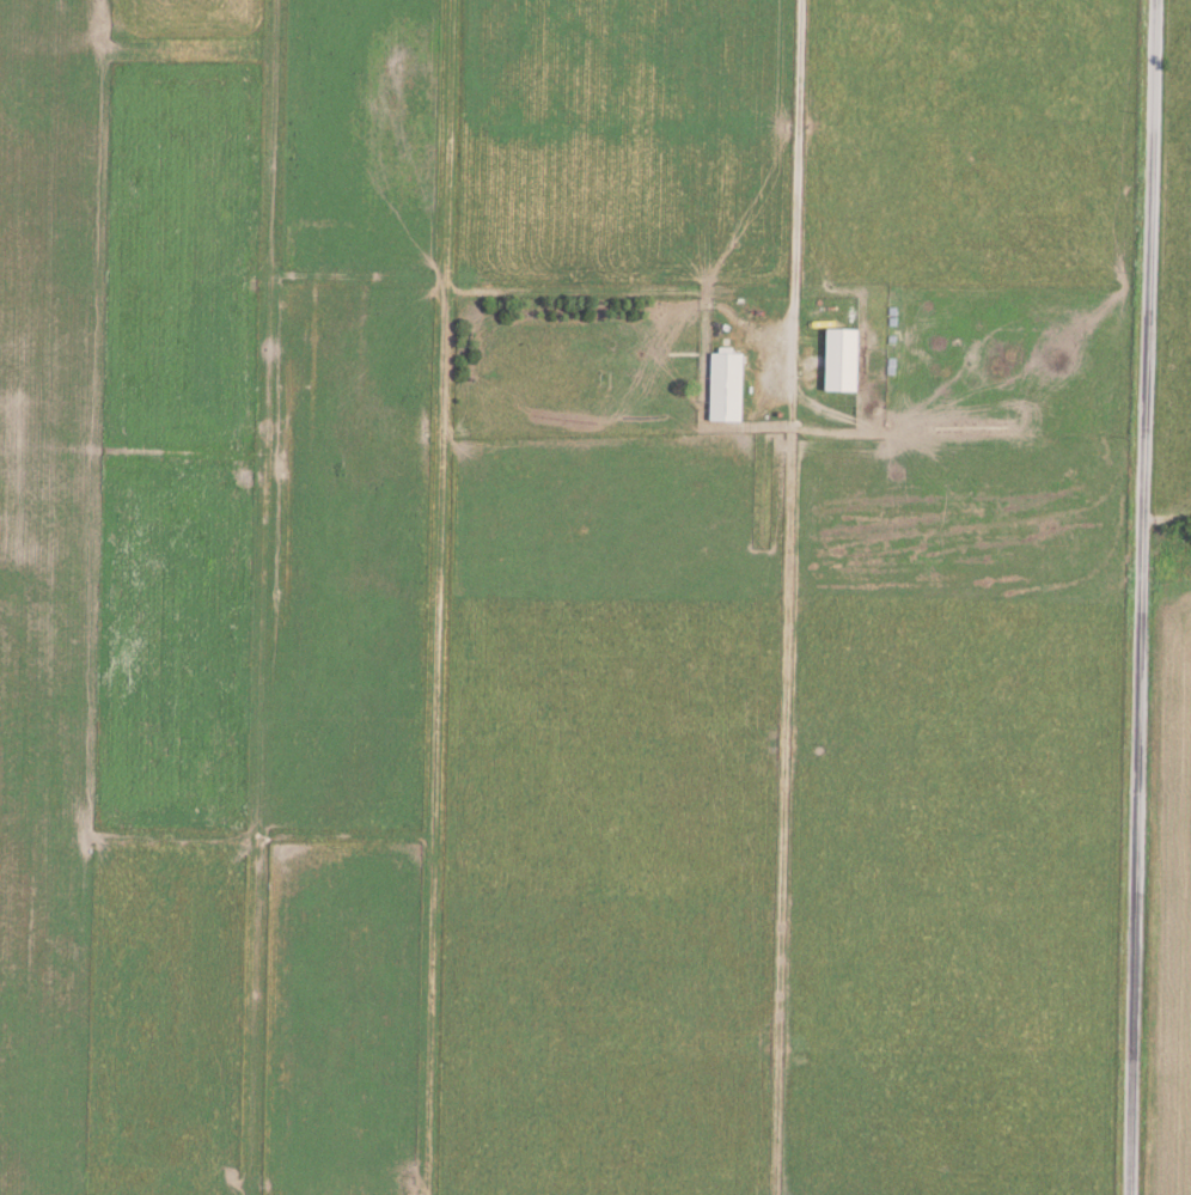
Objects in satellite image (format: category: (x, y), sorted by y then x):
building: (847, 359)
building: (731, 386)
road: (1140, 597)

